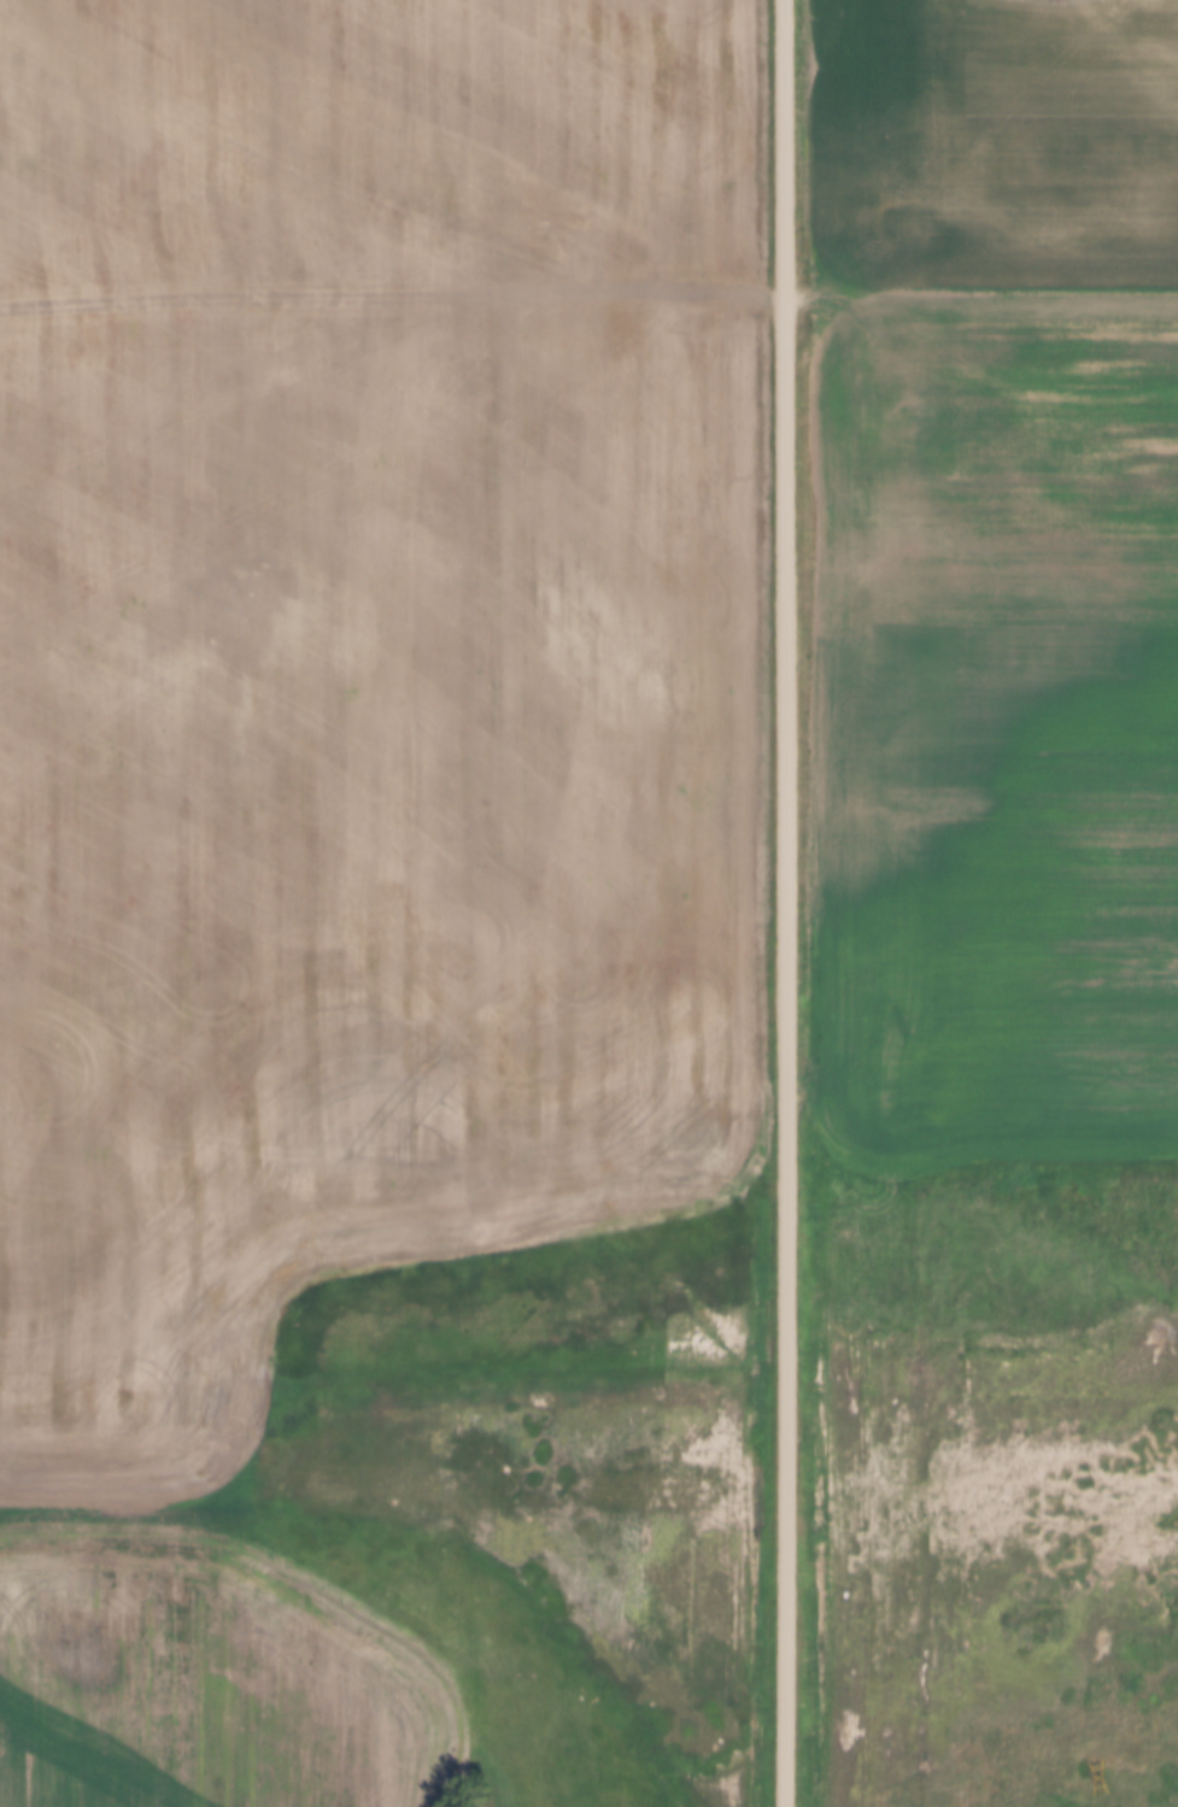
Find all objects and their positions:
road: (786, 903)

